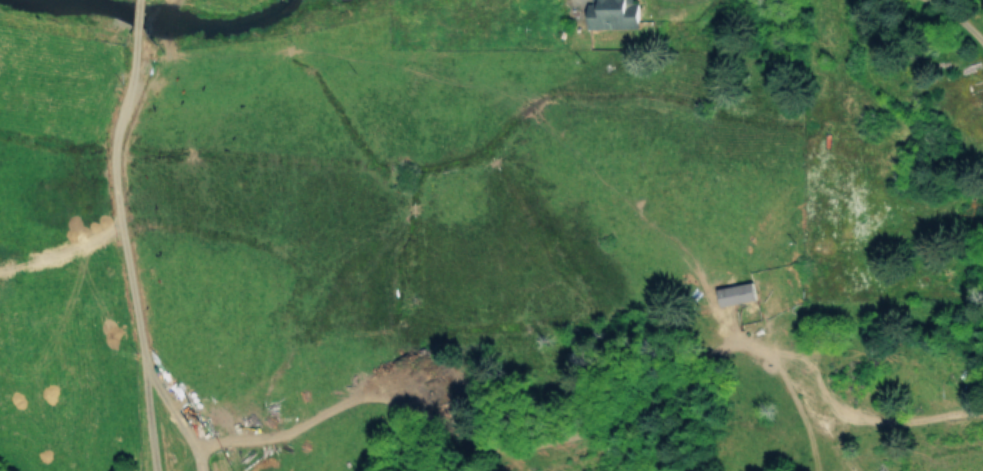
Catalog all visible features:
road: (569, 2)
building: (611, 14)
road: (956, 18)
road: (138, 21)
crop: (370, 197)
road: (117, 201)
building: (734, 293)
road: (176, 414)
road: (147, 416)
road: (599, 425)

